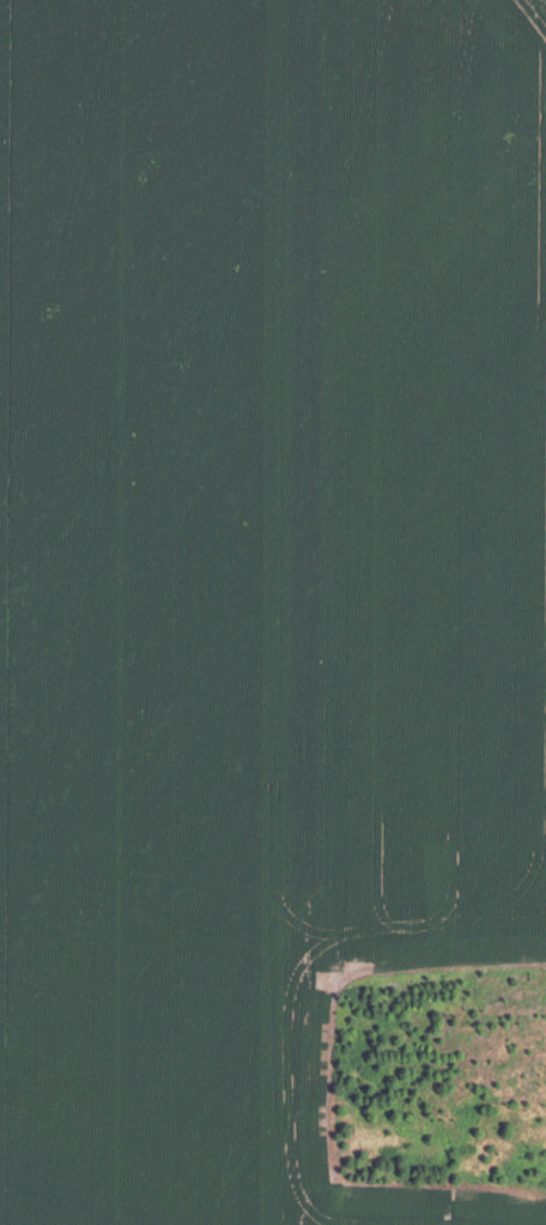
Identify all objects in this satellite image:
road: (156, 206)
road: (158, 502)
road: (311, 614)

